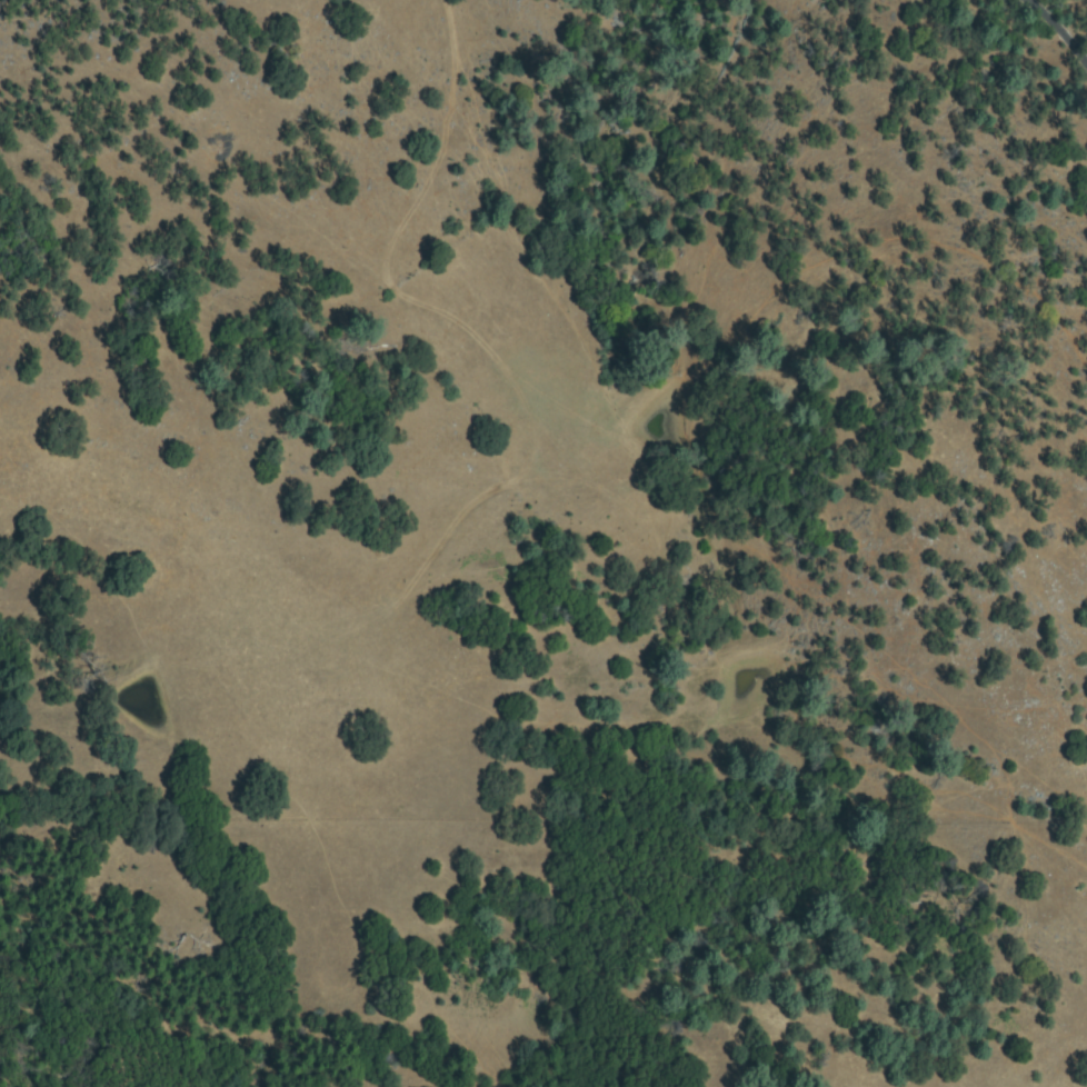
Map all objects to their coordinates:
road: (1058, 29)

